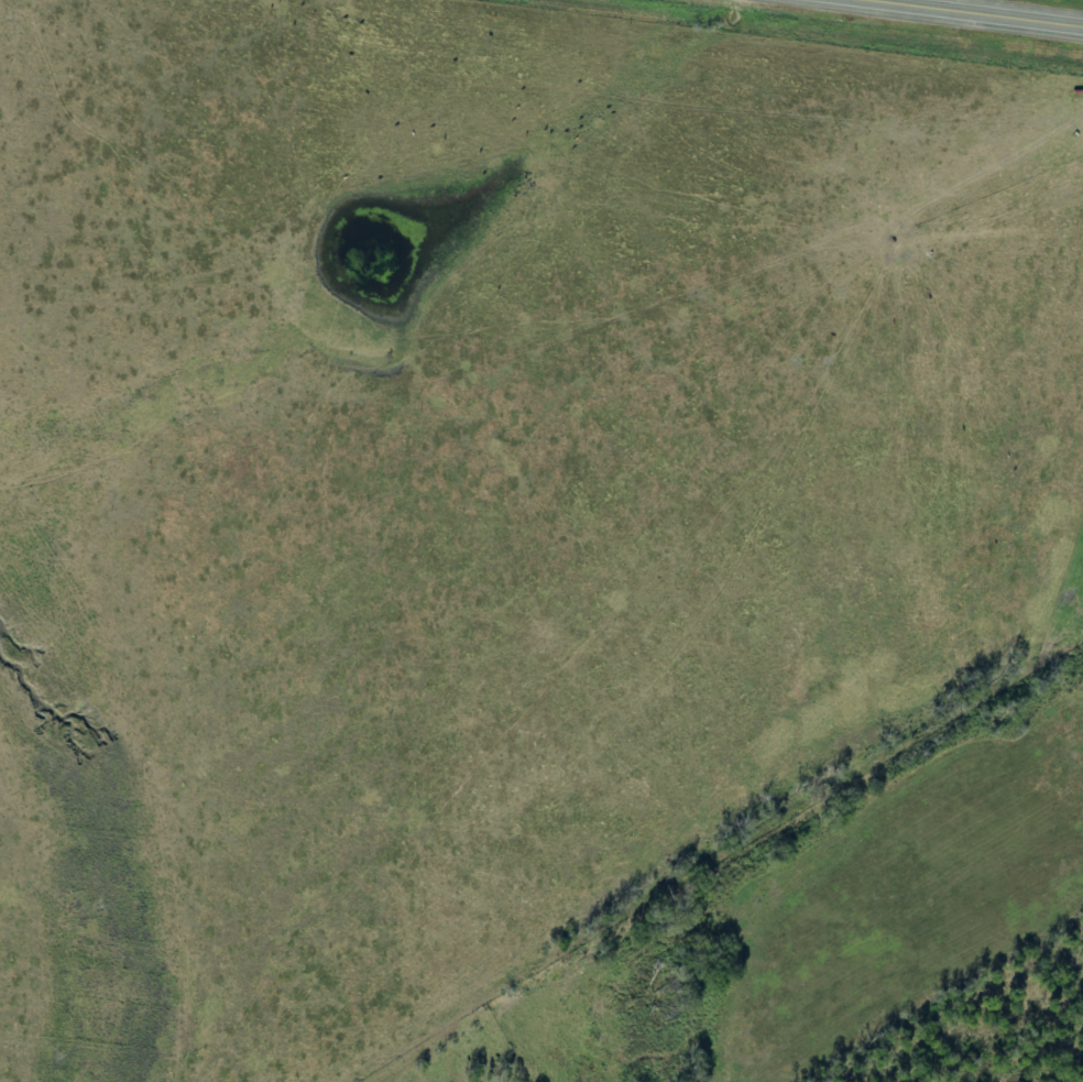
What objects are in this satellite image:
road: (1026, 7)

